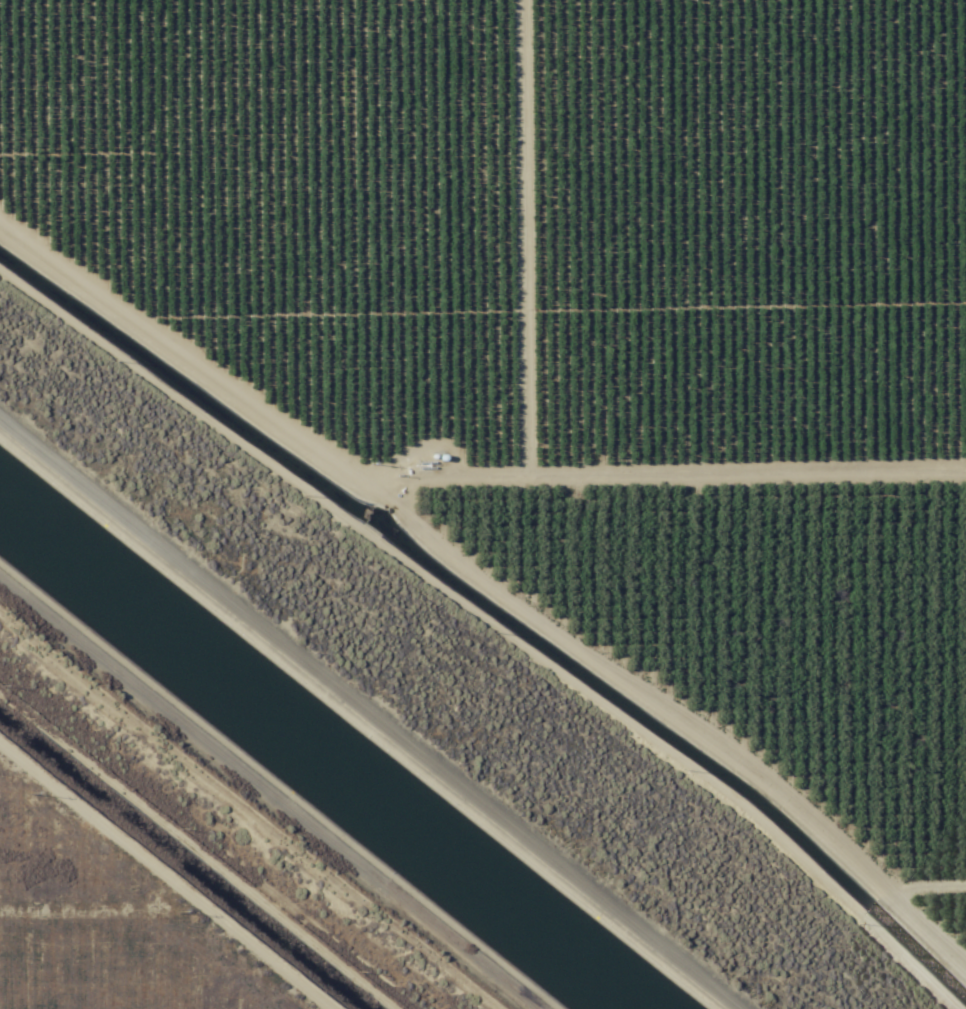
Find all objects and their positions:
road: (271, 792)

